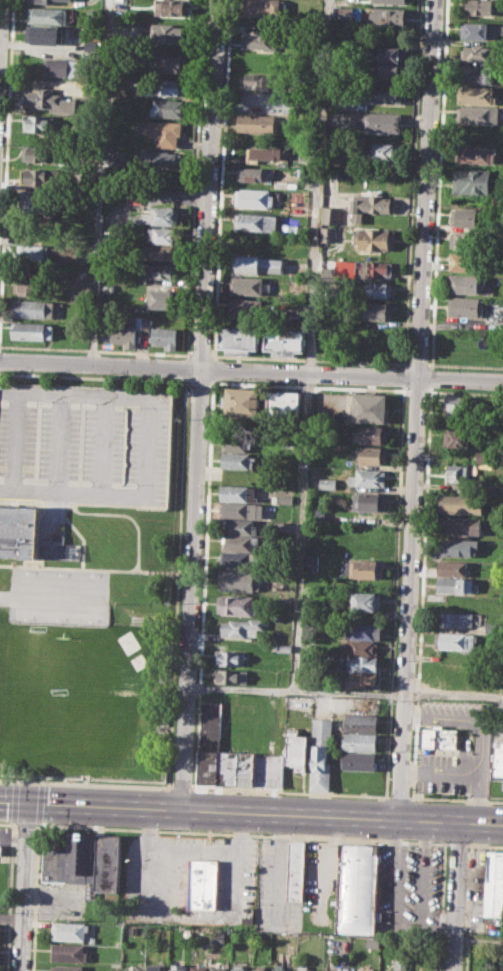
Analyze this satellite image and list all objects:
building: (42, 1)
building: (390, 1)
road: (0, 6)
building: (172, 7)
building: (481, 7)
building: (264, 8)
building: (345, 13)
building: (48, 15)
building: (388, 16)
building: (479, 29)
building: (44, 33)
building: (168, 33)
building: (261, 39)
building: (92, 45)
building: (476, 52)
building: (384, 53)
building: (169, 63)
building: (56, 67)
building: (384, 71)
building: (475, 74)
building: (263, 82)
building: (169, 87)
building: (476, 94)
building: (386, 95)
building: (49, 100)
building: (167, 108)
building: (477, 114)
building: (257, 122)
building: (381, 122)
building: (40, 123)
building: (166, 132)
road: (5, 137)
building: (383, 151)
building: (38, 153)
building: (477, 154)
building: (265, 155)
building: (163, 160)
building: (299, 171)
building: (253, 174)
building: (40, 177)
road: (193, 178)
road: (222, 179)
building: (472, 182)
road: (101, 183)
road: (411, 183)
building: (281, 184)
road: (438, 184)
building: (135, 196)
building: (255, 199)
building: (40, 202)
building: (285, 205)
building: (369, 206)
building: (331, 214)
building: (159, 216)
building: (469, 216)
building: (257, 222)
building: (329, 233)
building: (164, 234)
building: (375, 238)
building: (468, 241)
building: (251, 243)
building: (32, 251)
building: (160, 251)
building: (67, 254)
building: (466, 262)
building: (258, 264)
building: (345, 269)
building: (374, 269)
building: (160, 270)
building: (80, 274)
building: (466, 283)
building: (246, 285)
building: (28, 286)
building: (107, 288)
building: (378, 288)
building: (79, 289)
building: (164, 298)
building: (466, 306)
building: (245, 307)
building: (33, 308)
building: (377, 311)
building: (30, 330)
building: (123, 333)
building: (165, 336)
building: (239, 339)
building: (284, 341)
road: (94, 350)
road: (199, 354)
road: (308, 358)
road: (416, 363)
road: (464, 365)
road: (182, 367)
road: (214, 369)
road: (251, 371)
road: (403, 376)
road: (89, 377)
road: (430, 377)
road: (309, 387)
road: (415, 390)
road: (463, 392)
road: (73, 393)
building: (241, 400)
building: (284, 402)
building: (460, 403)
road: (199, 404)
building: (370, 407)
road: (416, 409)
building: (371, 434)
building: (458, 437)
road: (13, 439)
building: (288, 440)
road: (59, 441)
parking lot: (85, 442)
road: (103, 442)
building: (236, 442)
road: (148, 444)
road: (306, 448)
building: (372, 454)
building: (484, 456)
building: (239, 460)
building: (457, 473)
building: (368, 477)
building: (327, 483)
road: (71, 489)
building: (238, 493)
building: (282, 497)
building: (369, 501)
road: (36, 502)
building: (460, 504)
road: (55, 508)
building: (238, 509)
building: (317, 514)
building: (239, 525)
building: (460, 525)
road: (80, 533)
building: (30, 538)
building: (240, 542)
building: (456, 546)
building: (240, 559)
road: (134, 567)
building: (452, 567)
building: (365, 568)
road: (164, 569)
road: (176, 579)
building: (238, 581)
road: (203, 583)
building: (454, 584)
road: (393, 590)
road: (420, 591)
park: (60, 596)
building: (365, 601)
building: (237, 605)
building: (456, 619)
building: (242, 626)
building: (362, 630)
building: (455, 640)
building: (358, 647)
building: (284, 648)
building: (229, 657)
building: (366, 663)
building: (231, 676)
building: (365, 679)
road: (240, 687)
building: (96, 703)
building: (365, 722)
building: (439, 738)
parking lot: (475, 739)
building: (210, 742)
building: (364, 742)
building: (298, 750)
building: (322, 754)
building: (363, 762)
building: (498, 763)
building: (228, 766)
building: (246, 768)
building: (269, 769)
road: (463, 774)
road: (14, 781)
road: (40, 782)
road: (85, 782)
road: (180, 786)
road: (289, 791)
road: (397, 796)
road: (455, 798)
traffic signals: (29, 801)
road: (13, 802)
road: (38, 804)
road: (251, 812)
road: (8, 823)
road: (28, 825)
road: (244, 834)
road: (457, 843)
road: (485, 845)
road: (192, 850)
building: (0, 852)
building: (85, 860)
building: (296, 869)
building: (201, 883)
building: (493, 884)
road: (25, 885)
building: (356, 890)
parking lot: (408, 890)
road: (9, 896)
road: (35, 896)
road: (457, 897)
road: (440, 907)
road: (468, 908)
road: (185, 914)
road: (11, 916)
road: (406, 918)
building: (70, 931)
road: (478, 940)
building: (69, 952)
building: (399, 962)
building: (66, 967)
building: (177, 967)
building: (131, 968)
building: (155, 968)
building: (198, 968)
building: (217, 968)
building: (238, 969)
building: (258, 969)
building: (279, 969)
building: (337, 969)
building: (305, 970)
building: (365, 970)

